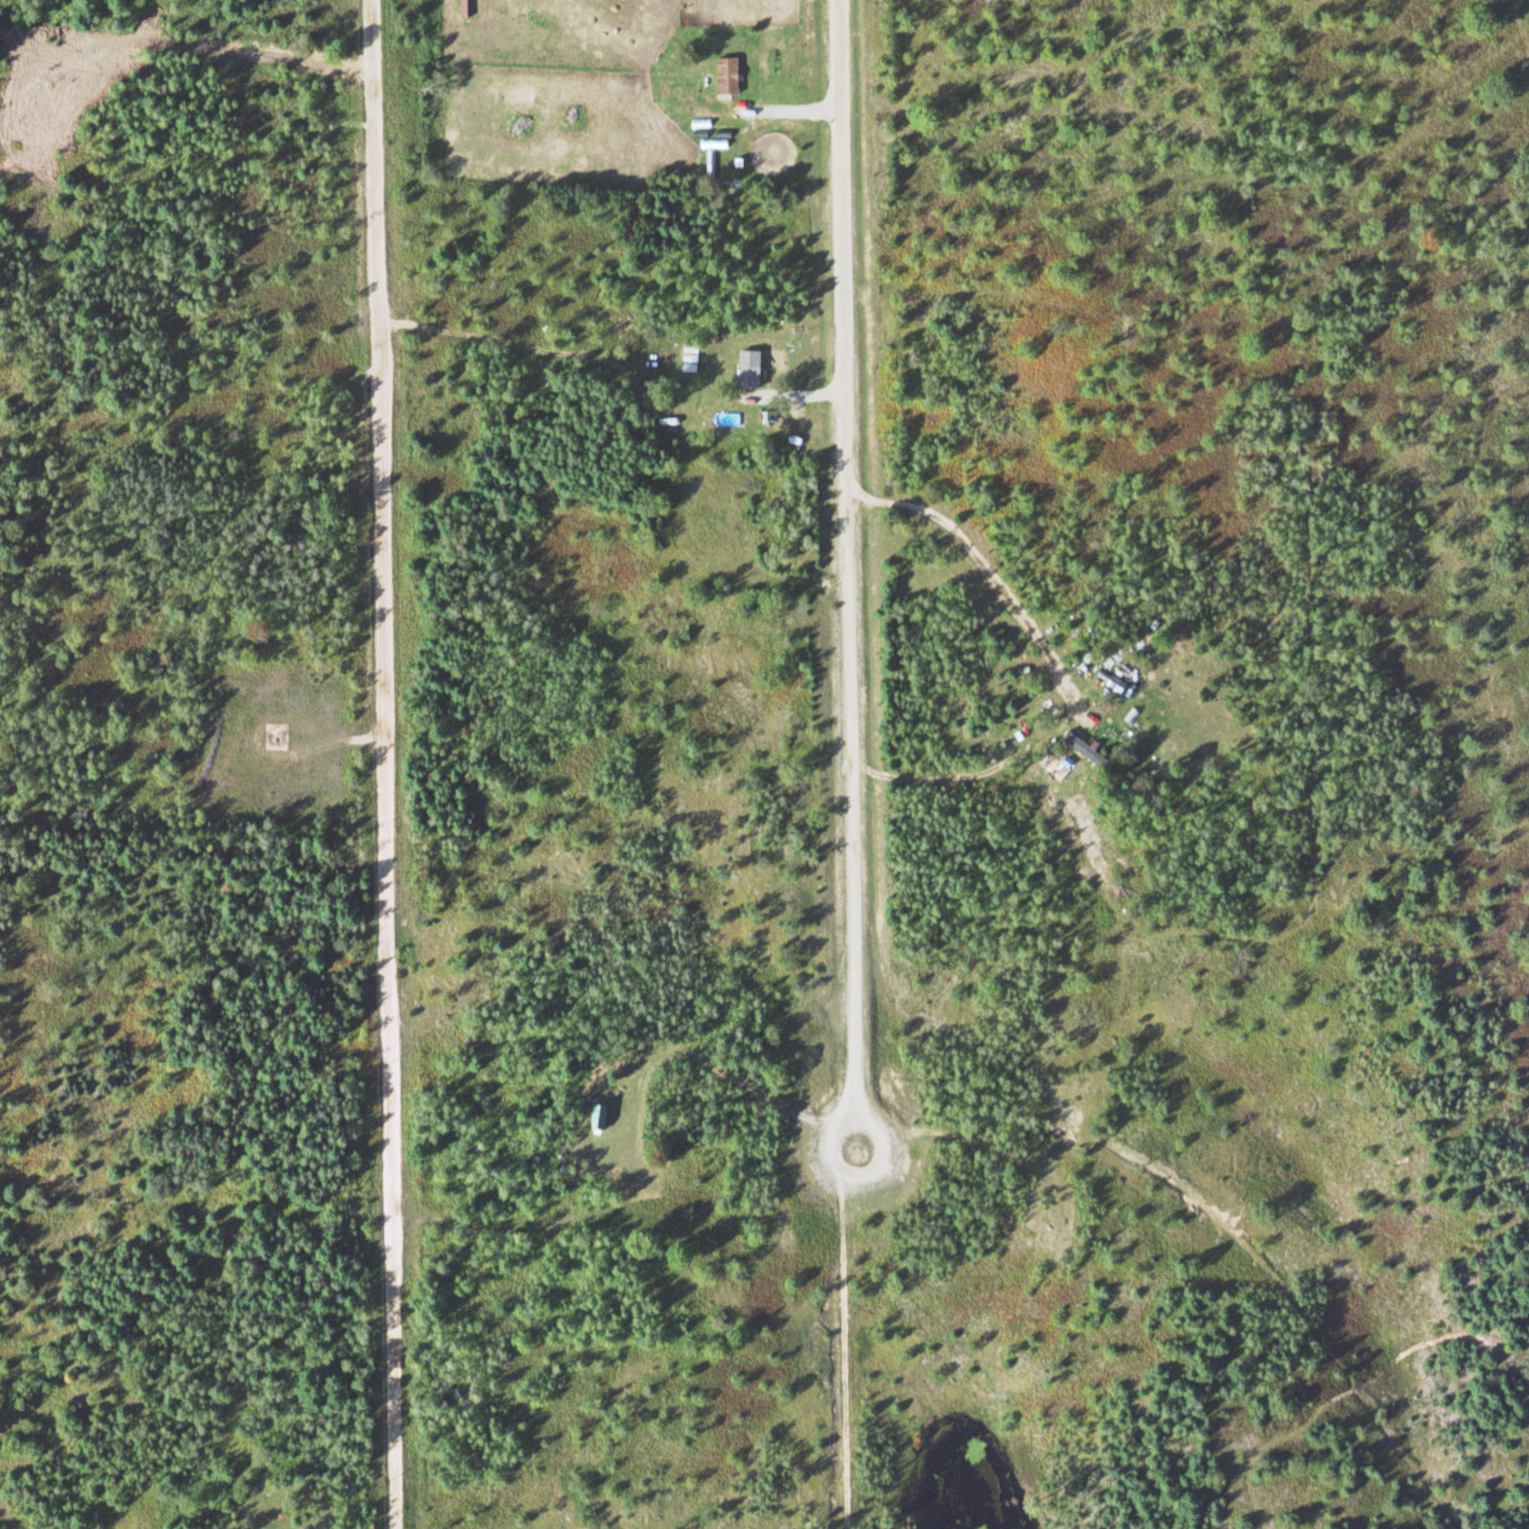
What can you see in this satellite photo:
building: (726, 76)
building: (747, 369)
road: (847, 575)
building: (1115, 683)
building: (1084, 750)
road: (399, 764)
building: (598, 1117)
road: (1214, 1220)
road: (845, 1339)
road: (1276, 1445)

